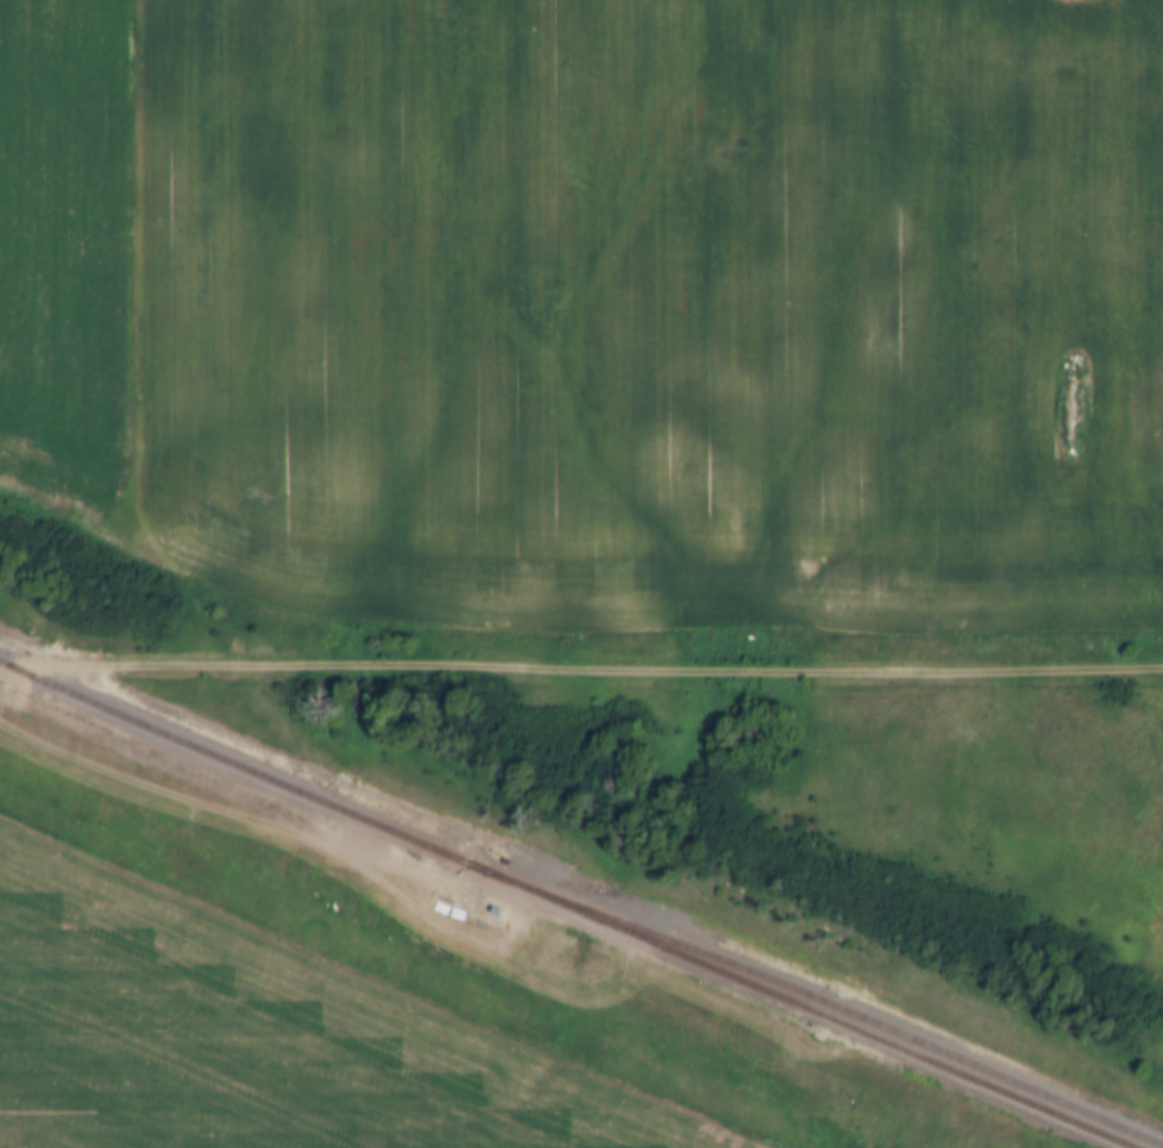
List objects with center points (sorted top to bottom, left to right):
road: (580, 669)
railway: (565, 906)
railway: (818, 1001)

